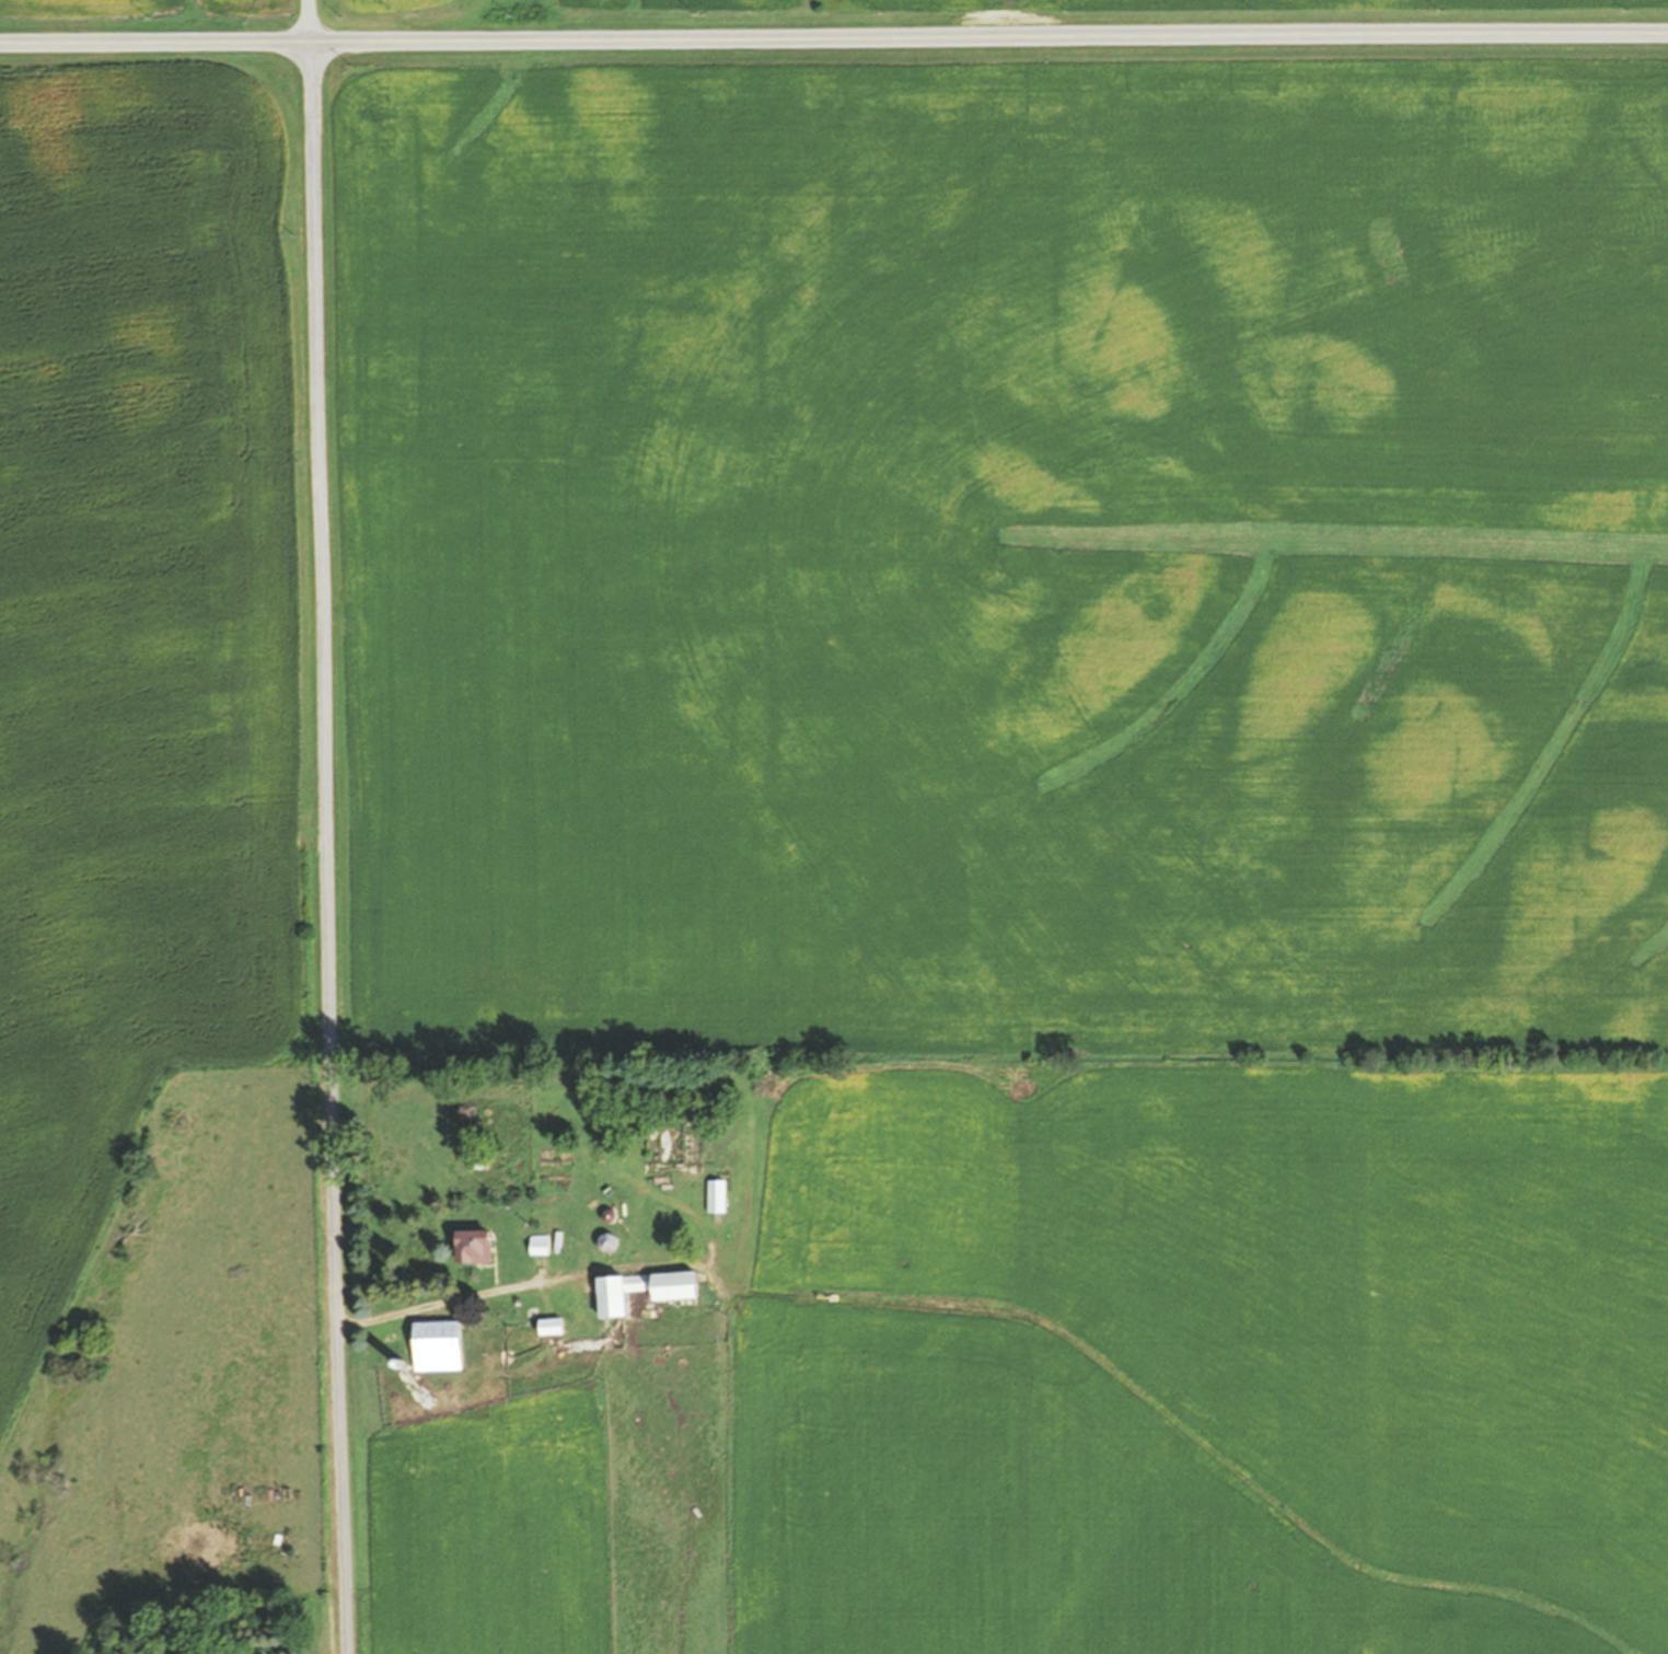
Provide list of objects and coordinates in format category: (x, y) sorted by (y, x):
road: (309, 21)
road: (833, 42)
road: (327, 847)

